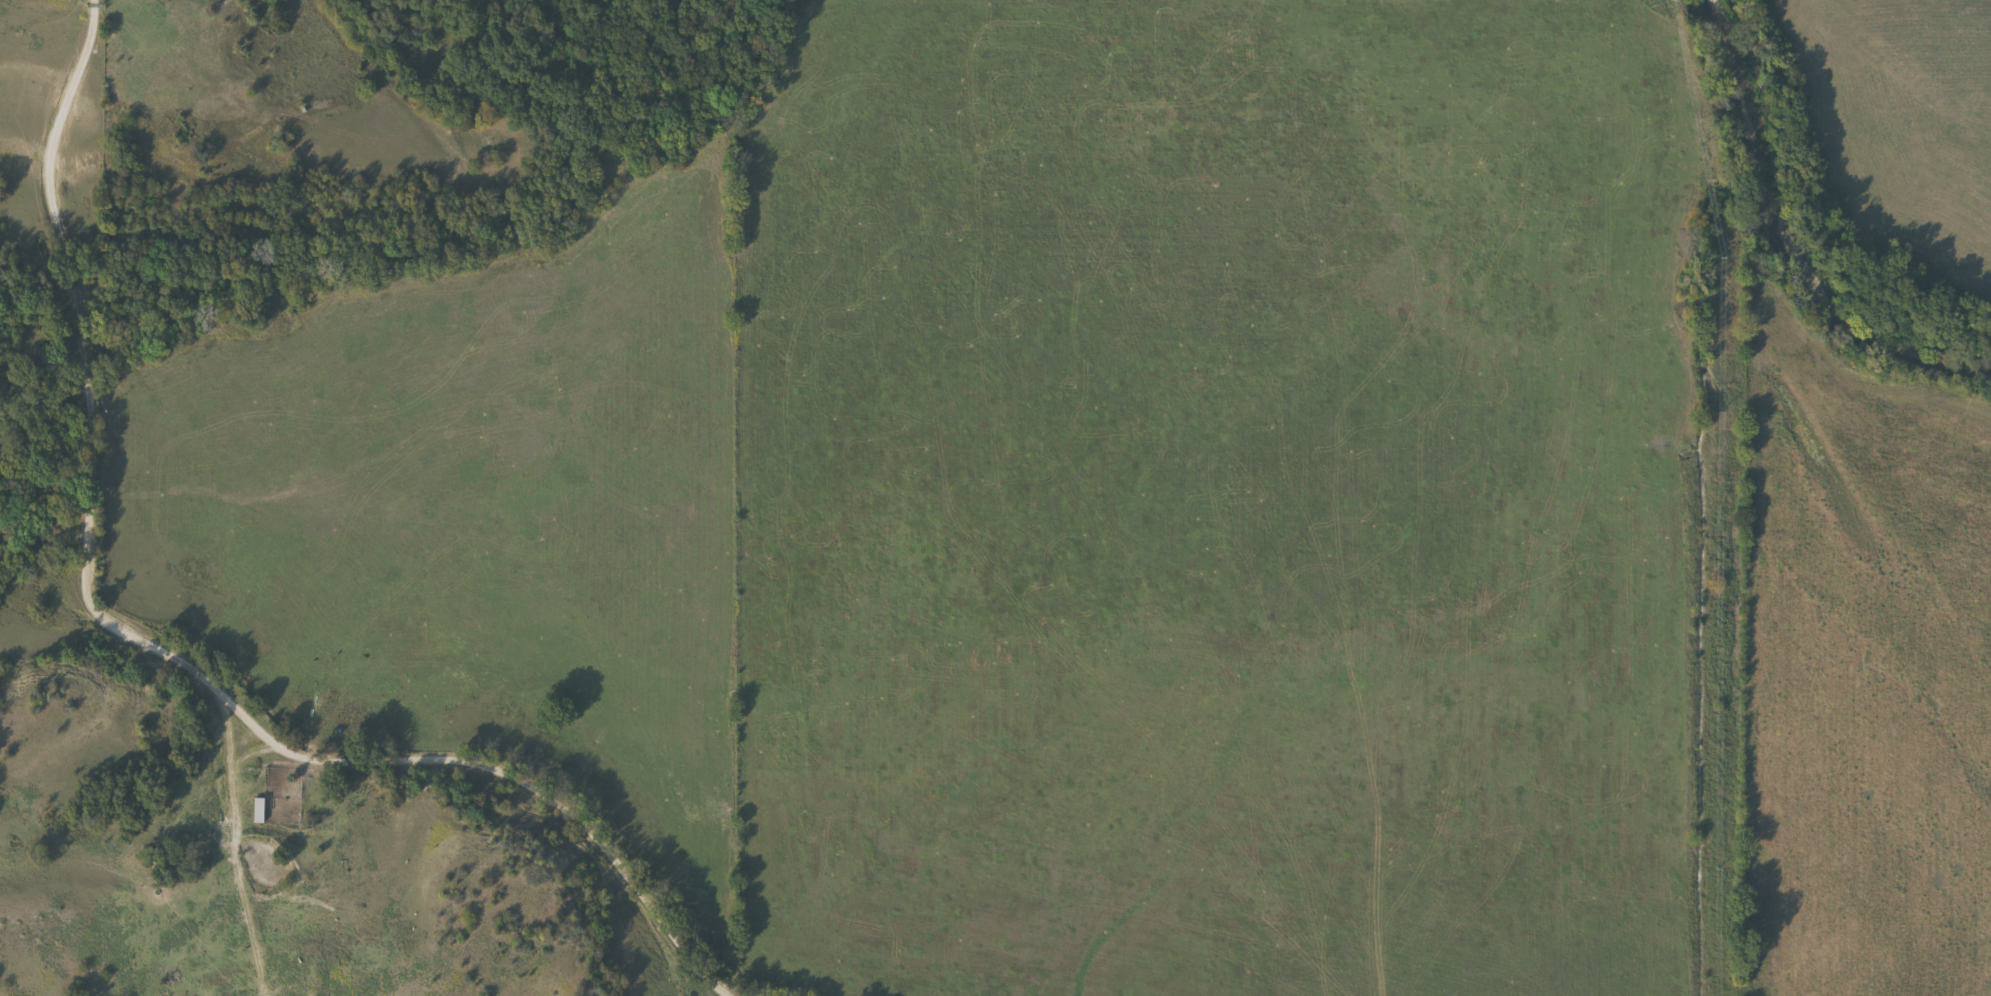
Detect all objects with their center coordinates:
road: (43, 33)
road: (174, 663)
building: (256, 812)
road: (230, 858)

